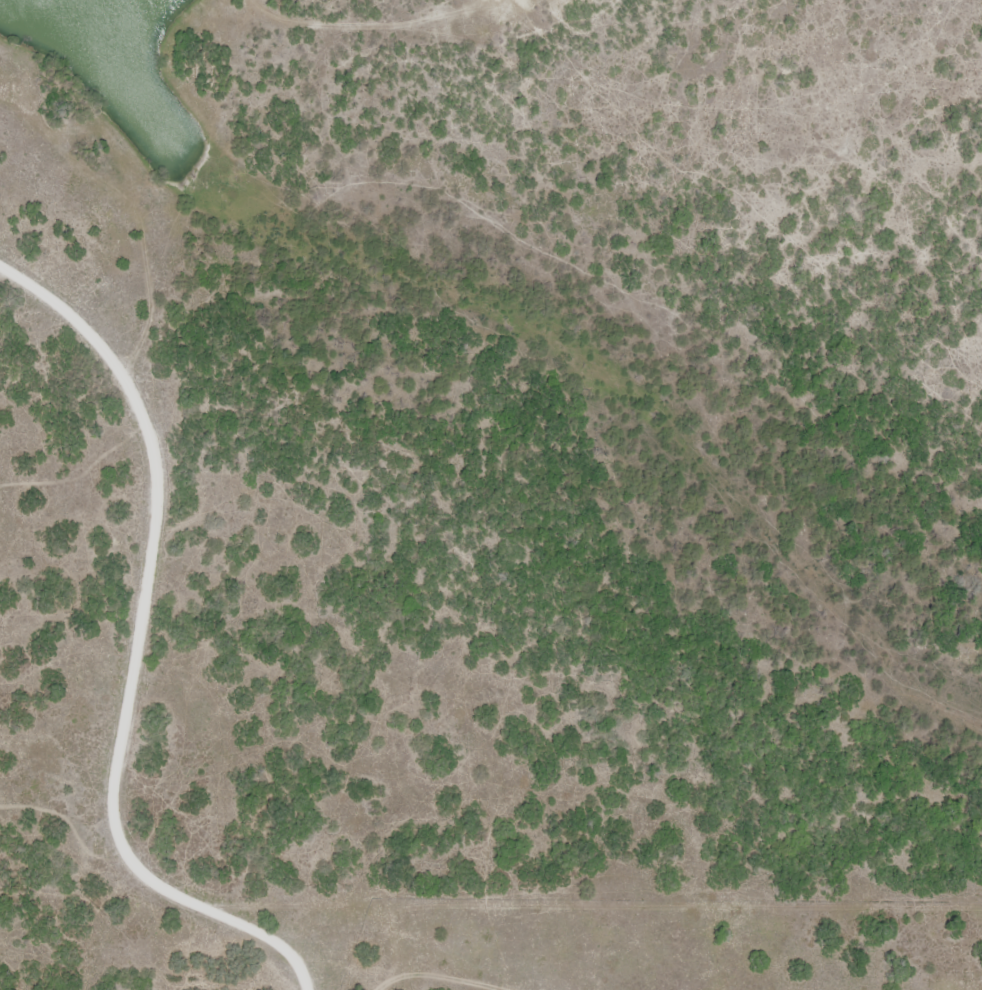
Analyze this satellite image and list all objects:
road: (404, 884)

